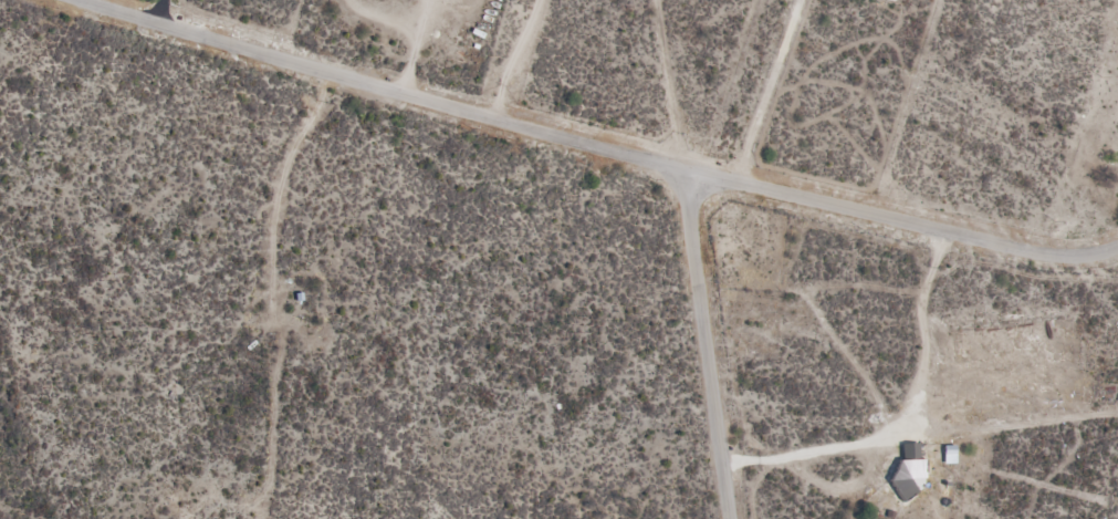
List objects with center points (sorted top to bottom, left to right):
road: (593, 145)
road: (710, 345)
building: (907, 477)

